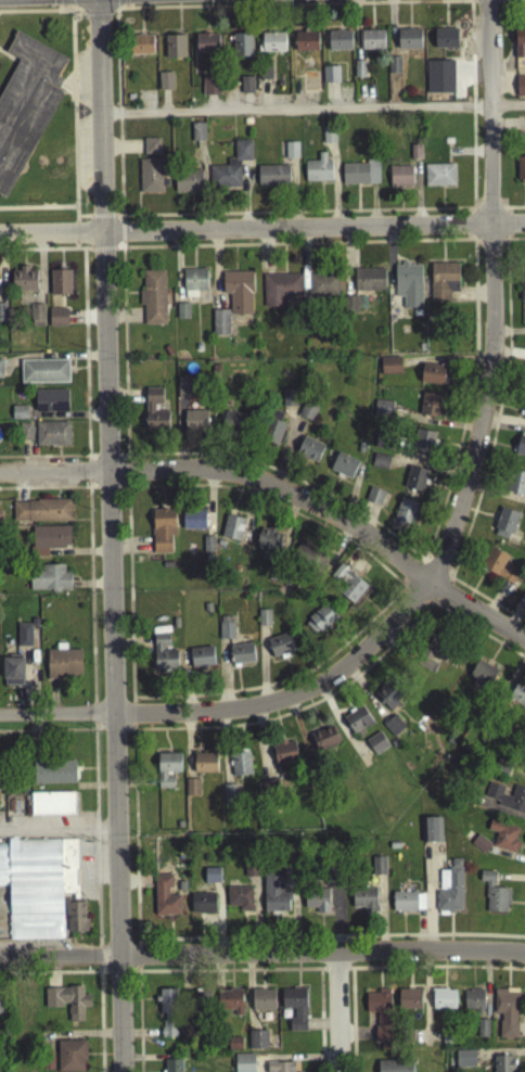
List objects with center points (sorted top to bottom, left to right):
road: (512, 3)
road: (65, 4)
road: (125, 4)
road: (486, 5)
road: (291, 10)
road: (125, 11)
road: (78, 13)
road: (39, 16)
road: (94, 17)
road: (79, 20)
building: (408, 42)
building: (445, 42)
building: (371, 43)
building: (338, 44)
building: (305, 46)
building: (272, 47)
building: (205, 48)
building: (518, 48)
building: (141, 49)
building: (241, 49)
building: (174, 51)
road: (9, 61)
road: (17, 65)
building: (394, 69)
building: (358, 73)
building: (264, 76)
building: (330, 78)
building: (439, 80)
parking lot: (81, 82)
building: (165, 85)
building: (309, 86)
building: (246, 89)
building: (209, 90)
building: (520, 90)
road: (71, 99)
building: (26, 107)
road: (73, 110)
road: (508, 110)
road: (294, 113)
building: (246, 126)
building: (197, 136)
building: (328, 139)
building: (151, 150)
building: (291, 154)
parking lot: (82, 158)
building: (230, 170)
building: (317, 173)
building: (520, 174)
building: (359, 177)
building: (271, 179)
building: (150, 180)
building: (400, 180)
building: (438, 180)
building: (188, 186)
road: (475, 206)
road: (488, 206)
road: (502, 207)
road: (73, 210)
road: (37, 212)
road: (513, 212)
road: (507, 215)
road: (469, 216)
road: (296, 217)
road: (75, 219)
road: (102, 220)
road: (117, 220)
road: (84, 221)
road: (78, 224)
road: (90, 224)
road: (120, 224)
road: (508, 228)
road: (466, 229)
road: (261, 231)
road: (120, 237)
road: (76, 239)
road: (466, 242)
road: (509, 242)
road: (476, 248)
road: (489, 248)
road: (502, 248)
road: (80, 253)
road: (119, 253)
road: (37, 254)
road: (101, 254)
building: (23, 283)
building: (369, 283)
building: (193, 285)
building: (443, 285)
building: (59, 286)
building: (322, 289)
building: (408, 289)
building: (279, 293)
building: (522, 294)
building: (238, 295)
road: (491, 296)
building: (153, 302)
building: (349, 309)
building: (181, 316)
building: (2, 317)
building: (36, 320)
building: (56, 321)
building: (219, 327)
building: (196, 352)
building: (167, 355)
road: (85, 360)
building: (389, 370)
building: (0, 373)
building: (215, 373)
building: (43, 375)
building: (434, 379)
building: (182, 394)
building: (287, 401)
building: (50, 405)
building: (428, 409)
building: (382, 412)
building: (524, 413)
building: (307, 414)
building: (154, 416)
building: (18, 417)
building: (194, 424)
building: (232, 427)
building: (272, 431)
building: (24, 436)
building: (51, 438)
building: (382, 445)
building: (422, 447)
road: (489, 449)
building: (520, 450)
building: (308, 454)
road: (125, 459)
road: (106, 460)
road: (46, 461)
building: (380, 465)
building: (343, 470)
road: (88, 475)
road: (127, 476)
building: (414, 483)
building: (516, 487)
road: (48, 493)
road: (108, 493)
road: (126, 493)
road: (445, 493)
road: (282, 494)
building: (373, 500)
building: (40, 515)
building: (0, 519)
building: (404, 520)
building: (192, 523)
building: (502, 526)
road: (319, 529)
building: (231, 532)
road: (107, 535)
building: (162, 536)
building: (48, 544)
building: (268, 547)
building: (207, 548)
building: (309, 561)
road: (427, 561)
road: (418, 564)
road: (438, 567)
building: (496, 570)
road: (409, 575)
road: (449, 575)
building: (48, 582)
road: (400, 586)
road: (450, 586)
building: (346, 588)
road: (401, 594)
road: (89, 597)
road: (443, 597)
road: (413, 600)
road: (435, 607)
road: (426, 609)
building: (206, 612)
building: (264, 622)
building: (320, 624)
building: (174, 627)
building: (225, 631)
building: (23, 639)
building: (280, 649)
building: (433, 656)
building: (163, 658)
building: (241, 658)
building: (201, 662)
building: (63, 667)
building: (12, 676)
building: (482, 680)
building: (388, 699)
building: (517, 699)
road: (131, 706)
road: (238, 713)
road: (92, 717)
road: (131, 719)
building: (357, 725)
building: (393, 729)
road: (131, 733)
road: (50, 735)
road: (114, 735)
building: (324, 742)
building: (375, 748)
building: (284, 756)
building: (204, 767)
building: (239, 767)
building: (167, 774)
building: (53, 777)
building: (524, 777)
building: (191, 791)
building: (229, 799)
building: (505, 801)
building: (52, 807)
road: (132, 808)
building: (431, 834)
road: (56, 838)
road: (95, 839)
building: (503, 840)
building: (479, 848)
building: (377, 870)
building: (249, 871)
building: (210, 880)
building: (37, 890)
building: (450, 893)
building: (273, 897)
building: (494, 897)
building: (164, 902)
building: (239, 903)
building: (363, 904)
building: (317, 906)
building: (407, 906)
building: (202, 908)
building: (76, 921)
road: (79, 941)
road: (34, 945)
road: (74, 945)
road: (137, 949)
road: (262, 957)
road: (444, 959)
road: (98, 960)
road: (409, 960)
road: (471, 960)
road: (379, 961)
road: (507, 961)
road: (138, 962)
road: (297, 962)
road: (138, 973)
road: (347, 973)
road: (388, 973)
road: (228, 974)
road: (321, 974)
road: (334, 974)
road: (119, 977)
road: (133, 977)
road: (53, 978)
road: (379, 980)
road: (409, 980)
road: (444, 980)
road: (507, 980)
road: (297, 981)
road: (472, 981)
road: (486, 990)
road: (426, 991)
road: (436, 991)
road: (421, 992)
road: (477, 993)
road: (485, 993)
road: (425, 998)
building: (201, 1004)
building: (262, 1004)
building: (408, 1004)
building: (443, 1004)
building: (1, 1005)
building: (27, 1005)
building: (67, 1005)
building: (473, 1005)
building: (167, 1006)
building: (230, 1006)
road: (421, 1006)
road: (425, 1006)
road: (430, 1006)
building: (294, 1011)
road: (335, 1014)
building: (505, 1016)
building: (380, 1017)
road: (521, 1020)
road: (100, 1021)
road: (521, 1023)
road: (521, 1031)
building: (168, 1033)
building: (482, 1033)
road: (521, 1034)
road: (355, 1038)
building: (407, 1041)
building: (447, 1042)
road: (426, 1043)
building: (257, 1044)
building: (234, 1049)
building: (71, 1058)
building: (464, 1063)
building: (48, 1064)
building: (243, 1064)
building: (502, 1065)
building: (172, 1068)
building: (395, 1068)
building: (279, 1069)

